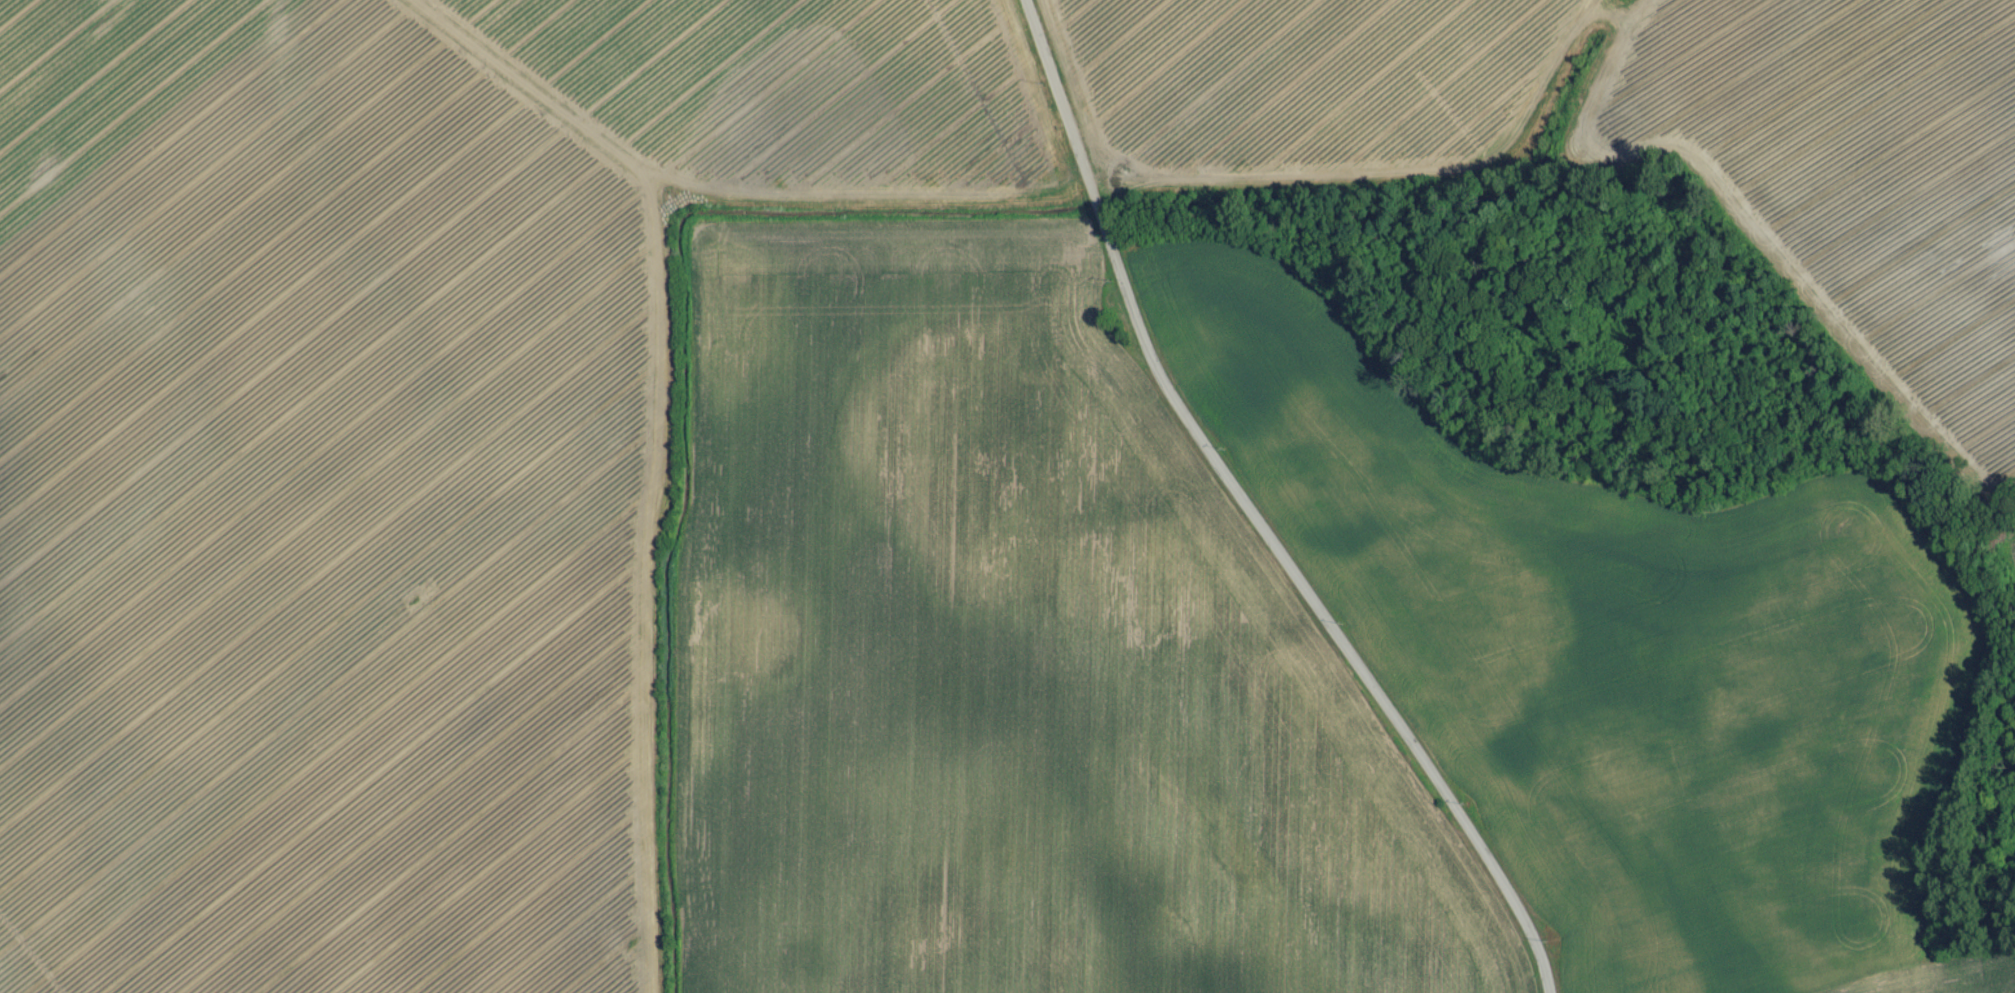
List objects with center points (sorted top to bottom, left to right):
road: (1249, 511)

